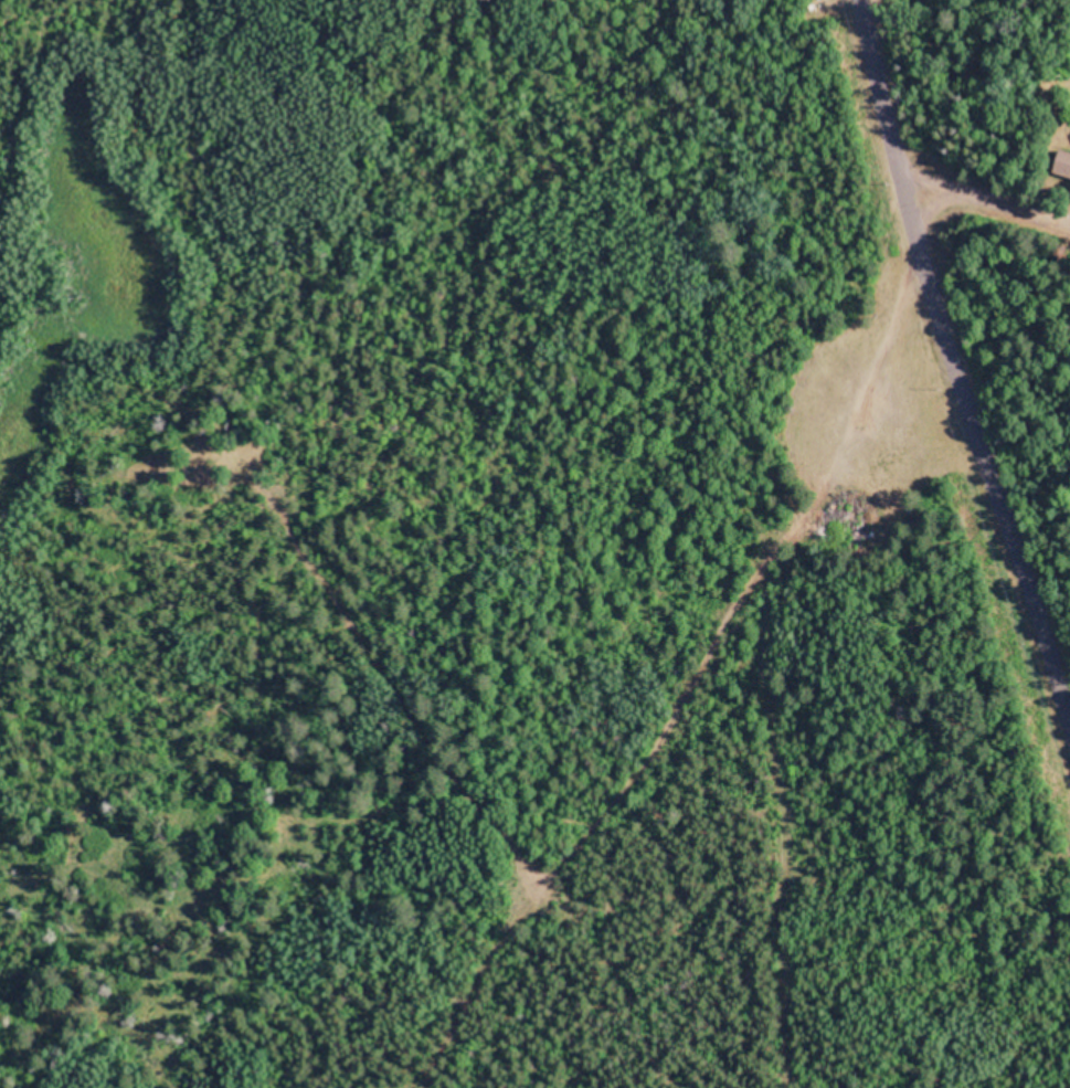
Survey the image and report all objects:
building: (1067, 163)
road: (971, 209)
road: (925, 413)

